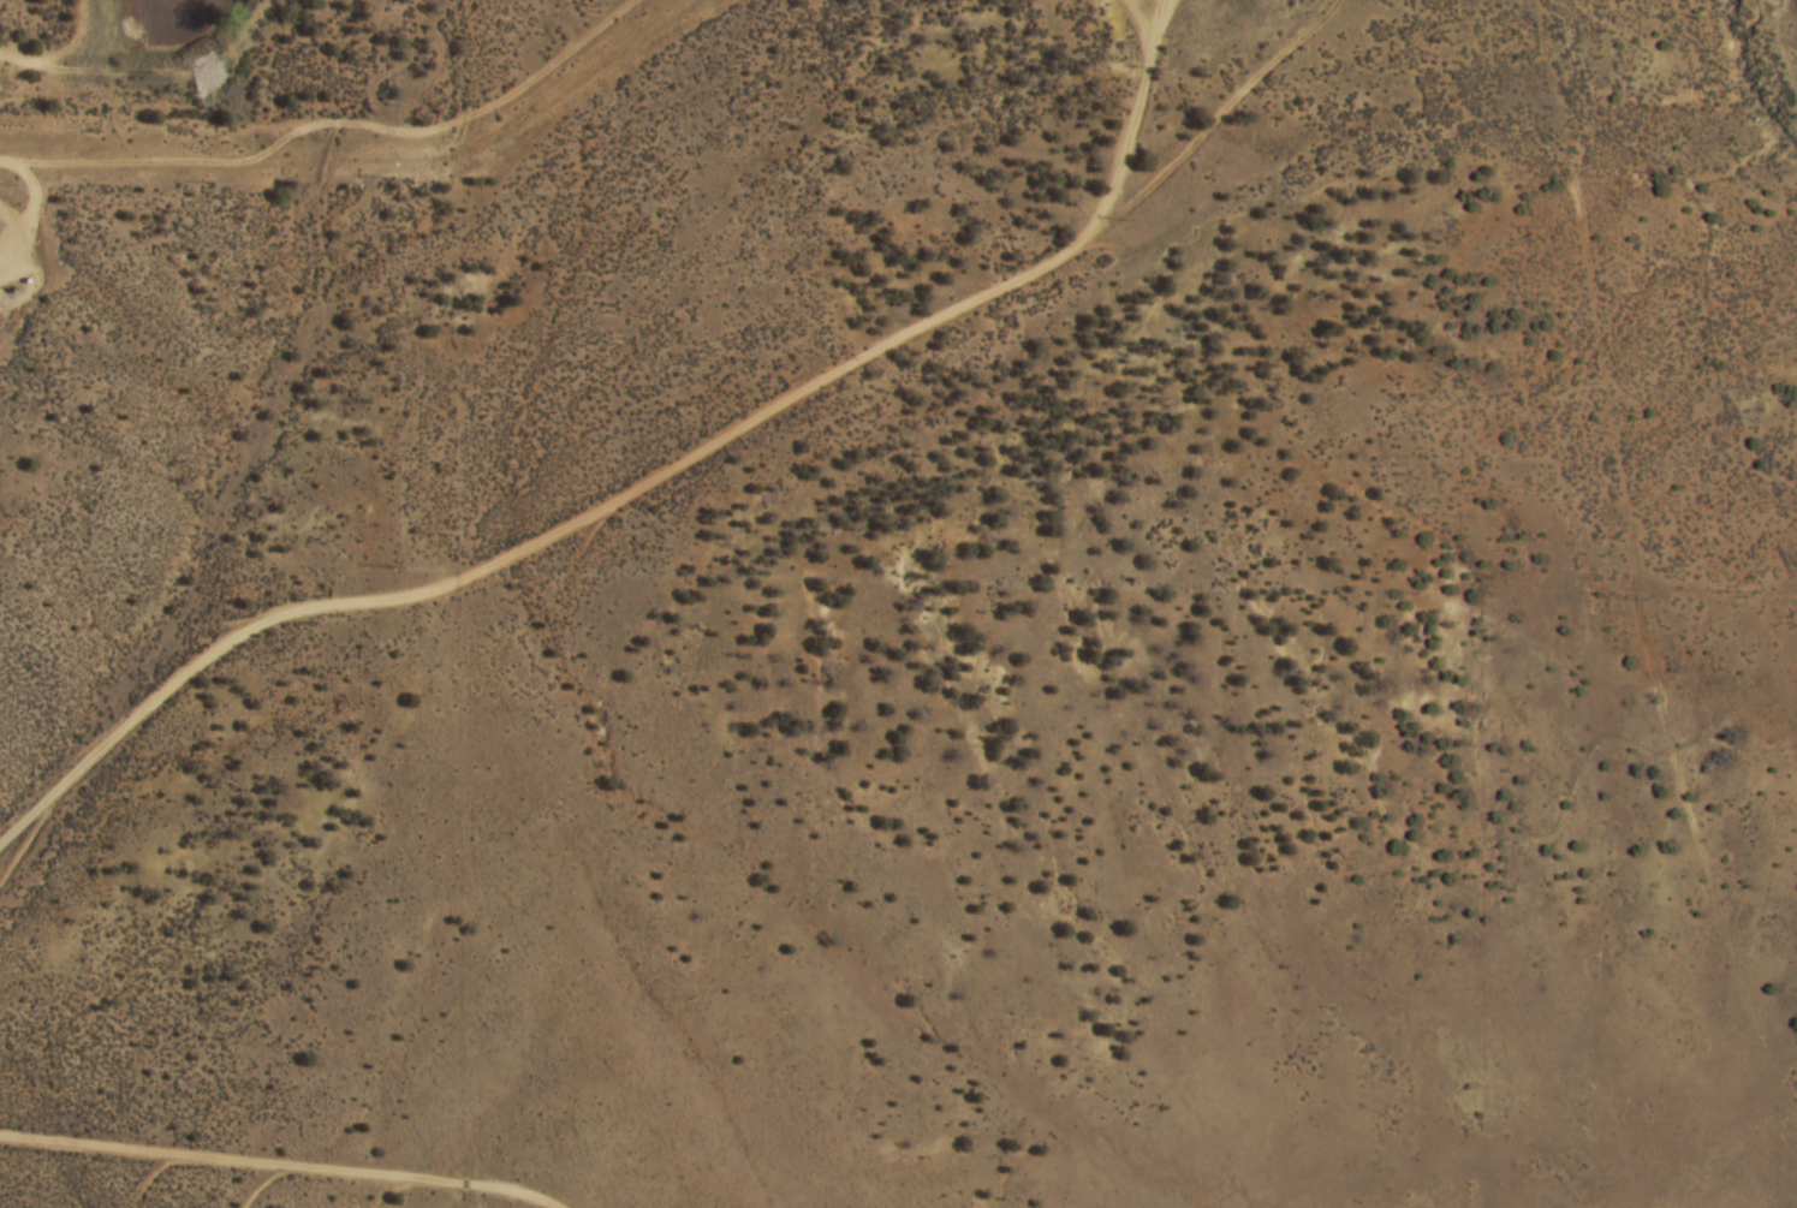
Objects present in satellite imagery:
road: (678, 468)

